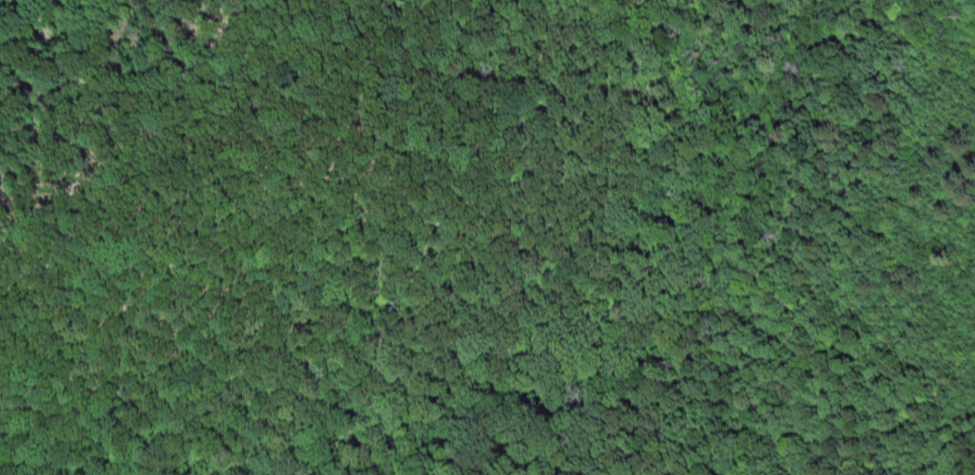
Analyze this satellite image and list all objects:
road: (92, 121)

